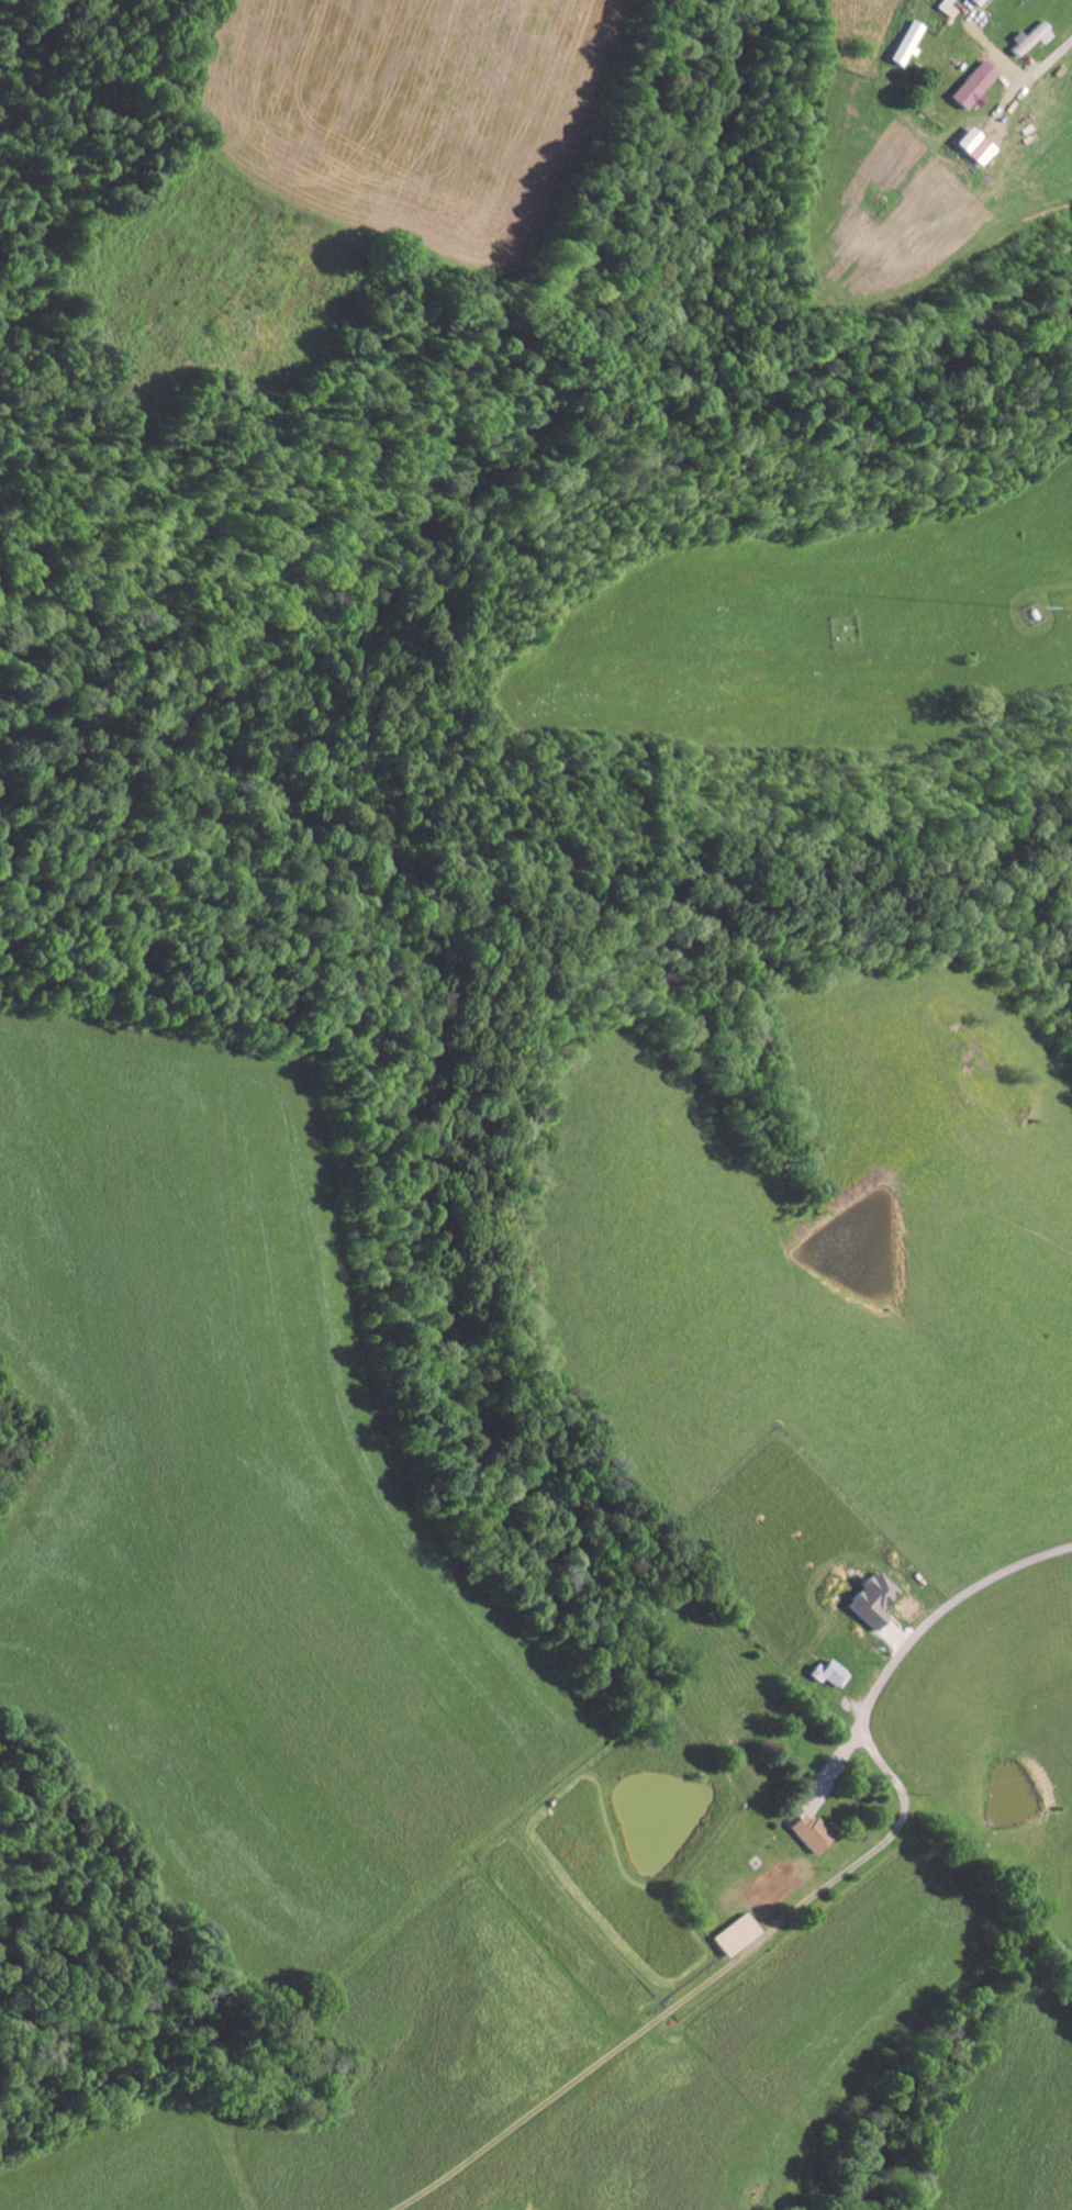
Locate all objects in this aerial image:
building: (975, 2)
building: (1026, 40)
building: (907, 43)
road: (1047, 65)
building: (970, 86)
building: (971, 147)
road: (935, 1620)
building: (828, 1675)
building: (807, 1832)
building: (732, 1935)

